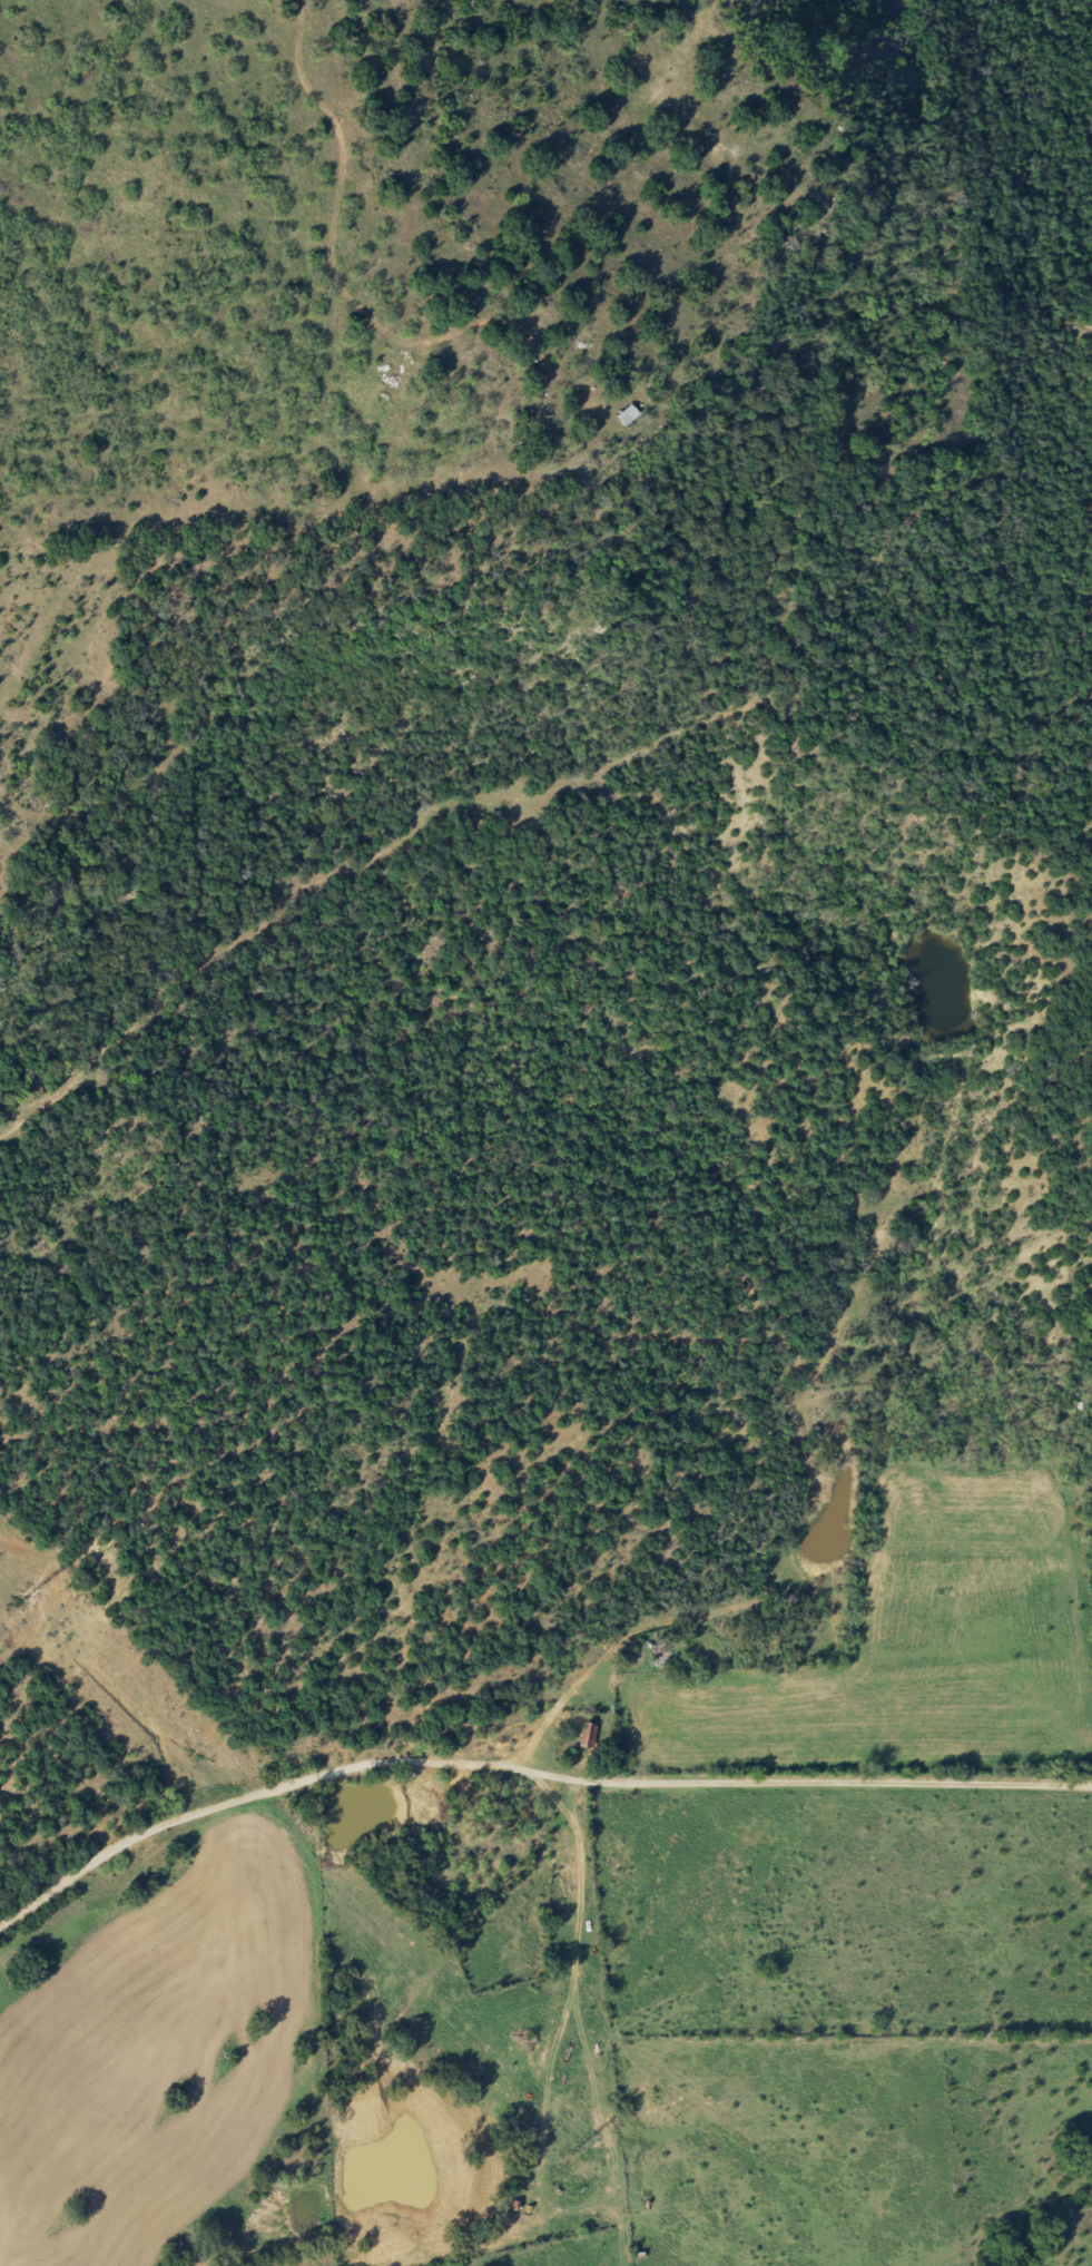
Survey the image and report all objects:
road: (550, 1717)
building: (583, 1735)
road: (523, 1768)
road: (579, 1930)

